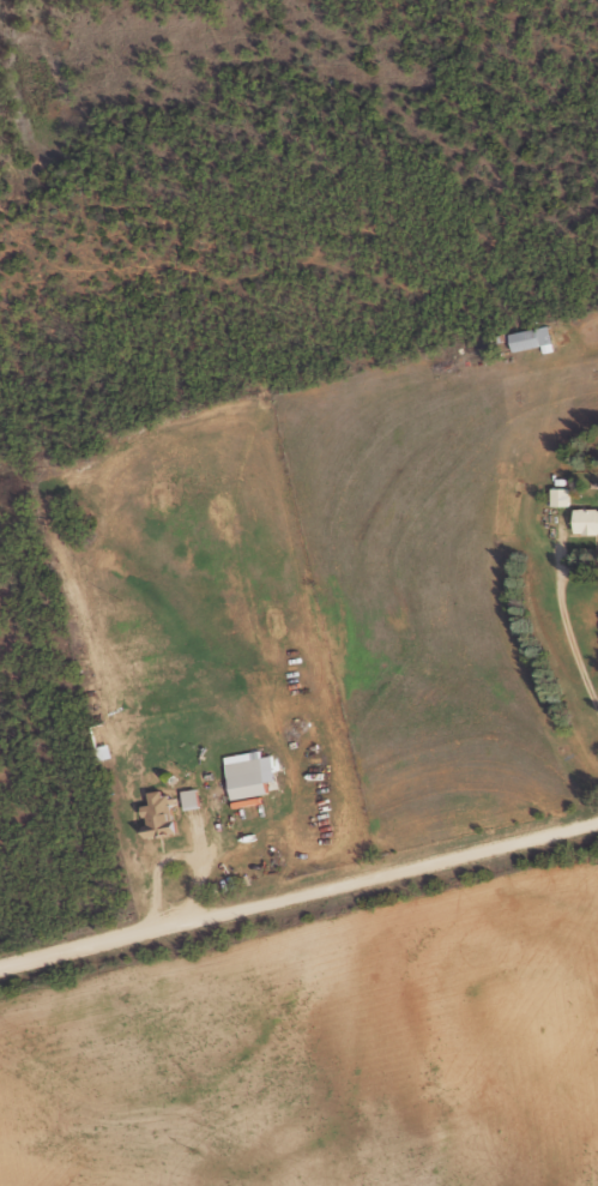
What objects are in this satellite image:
building: (532, 338)
building: (562, 496)
building: (586, 520)
building: (101, 740)
building: (252, 773)
building: (193, 799)
building: (163, 814)
road: (188, 851)
road: (391, 869)
road: (77, 941)

